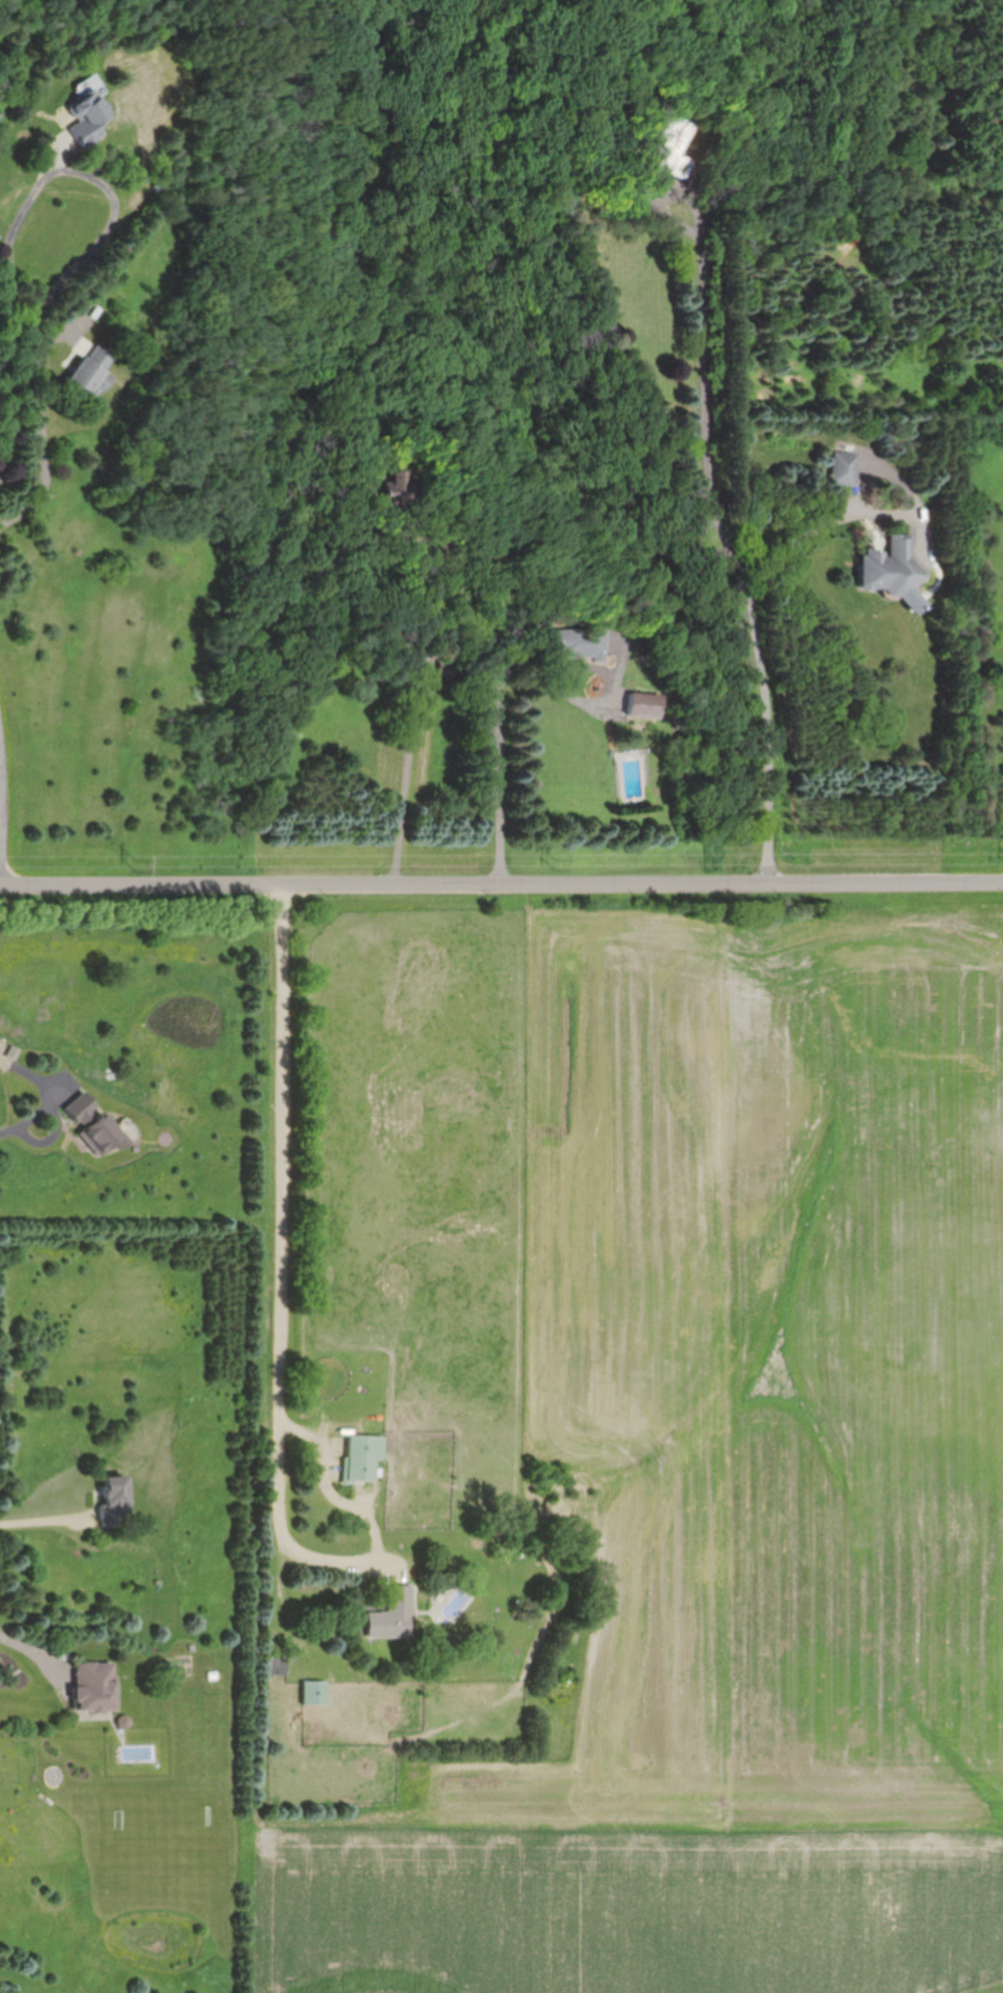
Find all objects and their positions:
building: (85, 111)
building: (667, 145)
road: (10, 247)
building: (88, 370)
road: (707, 381)
road: (4, 404)
road: (43, 432)
building: (841, 468)
road: (814, 526)
building: (885, 566)
building: (573, 642)
building: (637, 710)
road: (413, 717)
road: (769, 733)
road: (500, 742)
road: (3, 829)
power tower: (556, 863)
power tower: (132, 867)
road: (501, 884)
building: (90, 1123)
road: (56, 1126)
road: (8, 1130)
road: (285, 1154)
building: (359, 1456)
building: (109, 1499)
road: (359, 1511)
road: (40, 1519)
building: (388, 1614)
road: (29, 1657)
building: (88, 1686)
building: (311, 1691)

